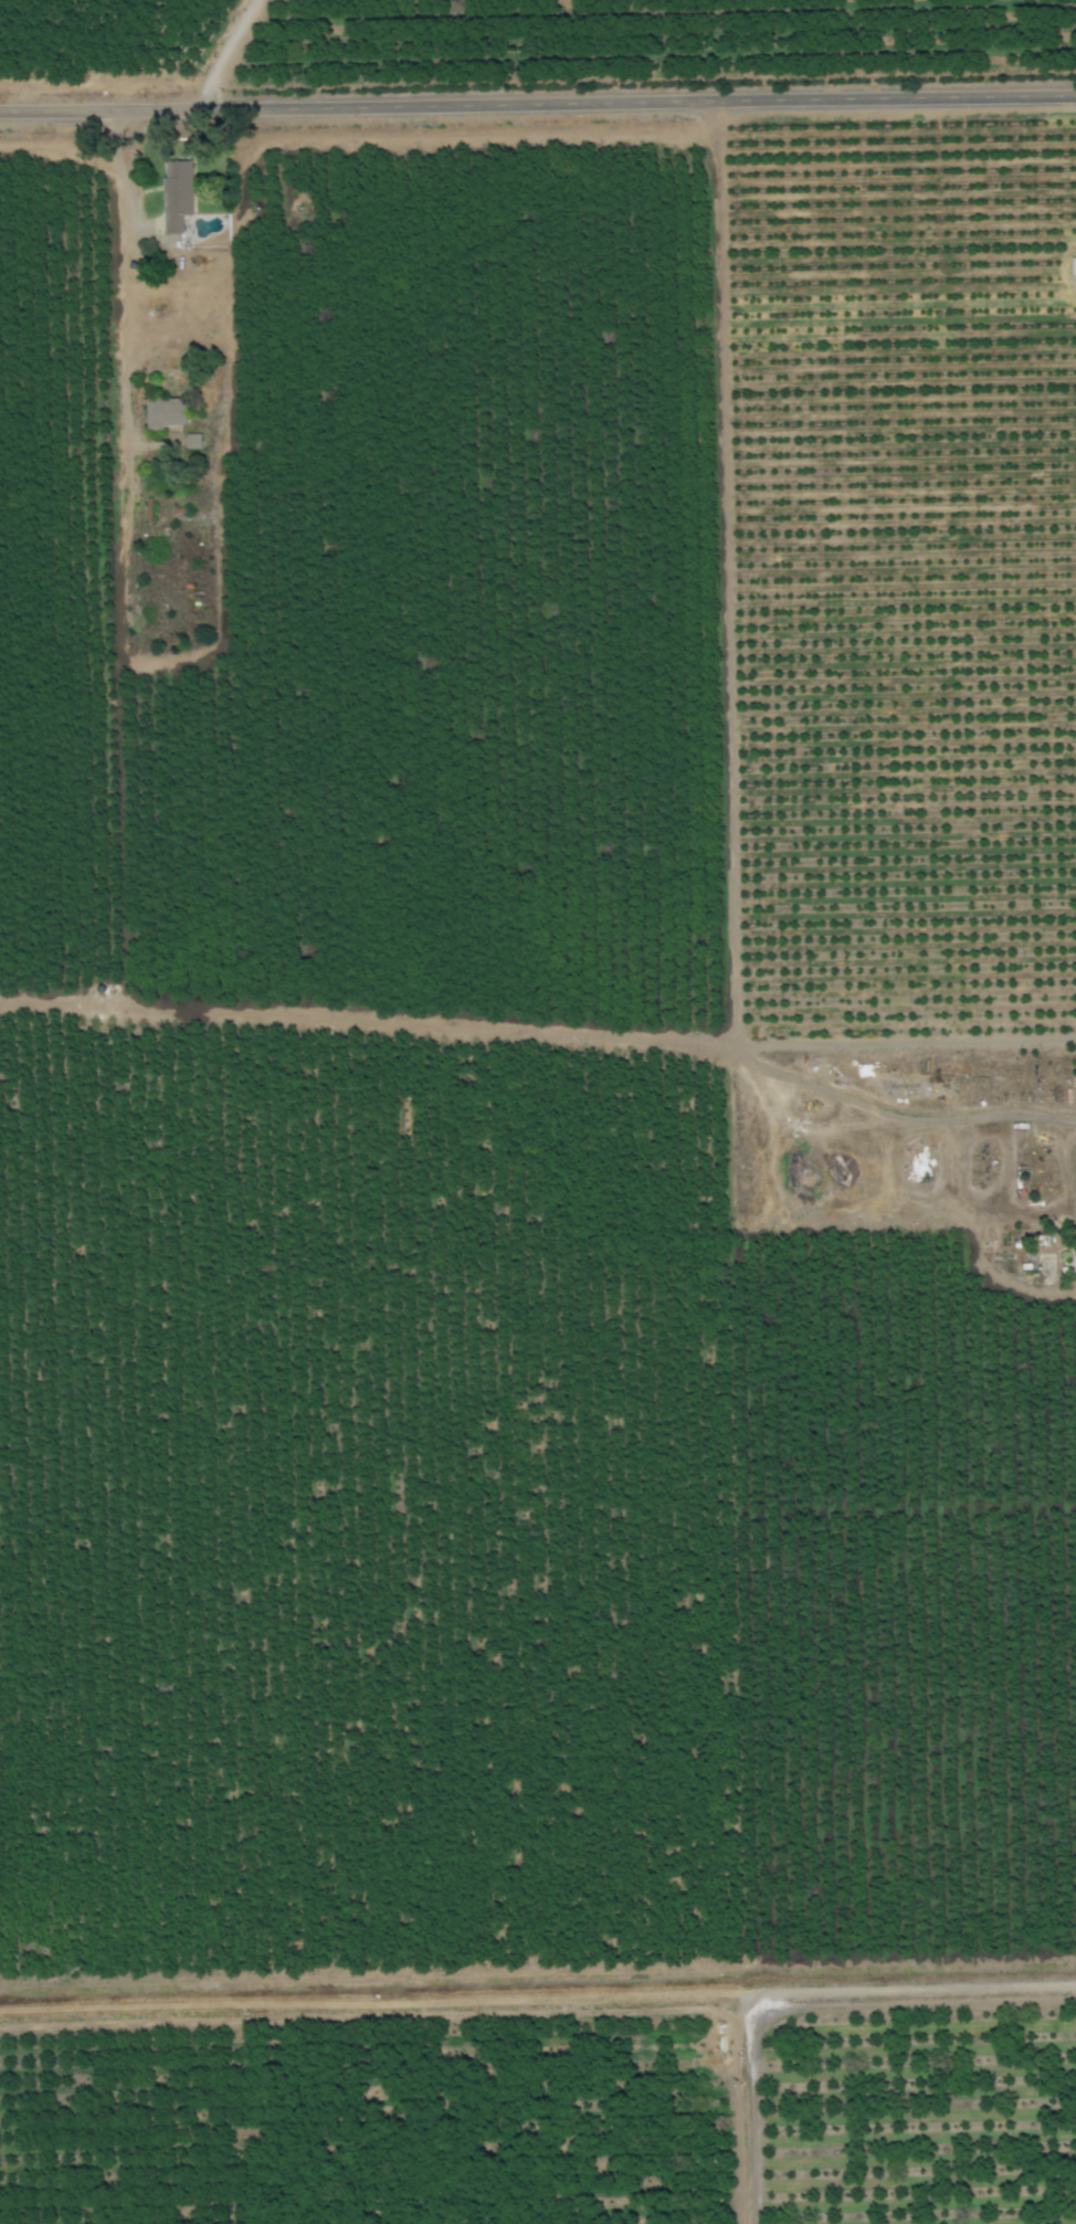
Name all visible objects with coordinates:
road: (538, 102)
building: (179, 193)
building: (1075, 264)
building: (169, 411)

